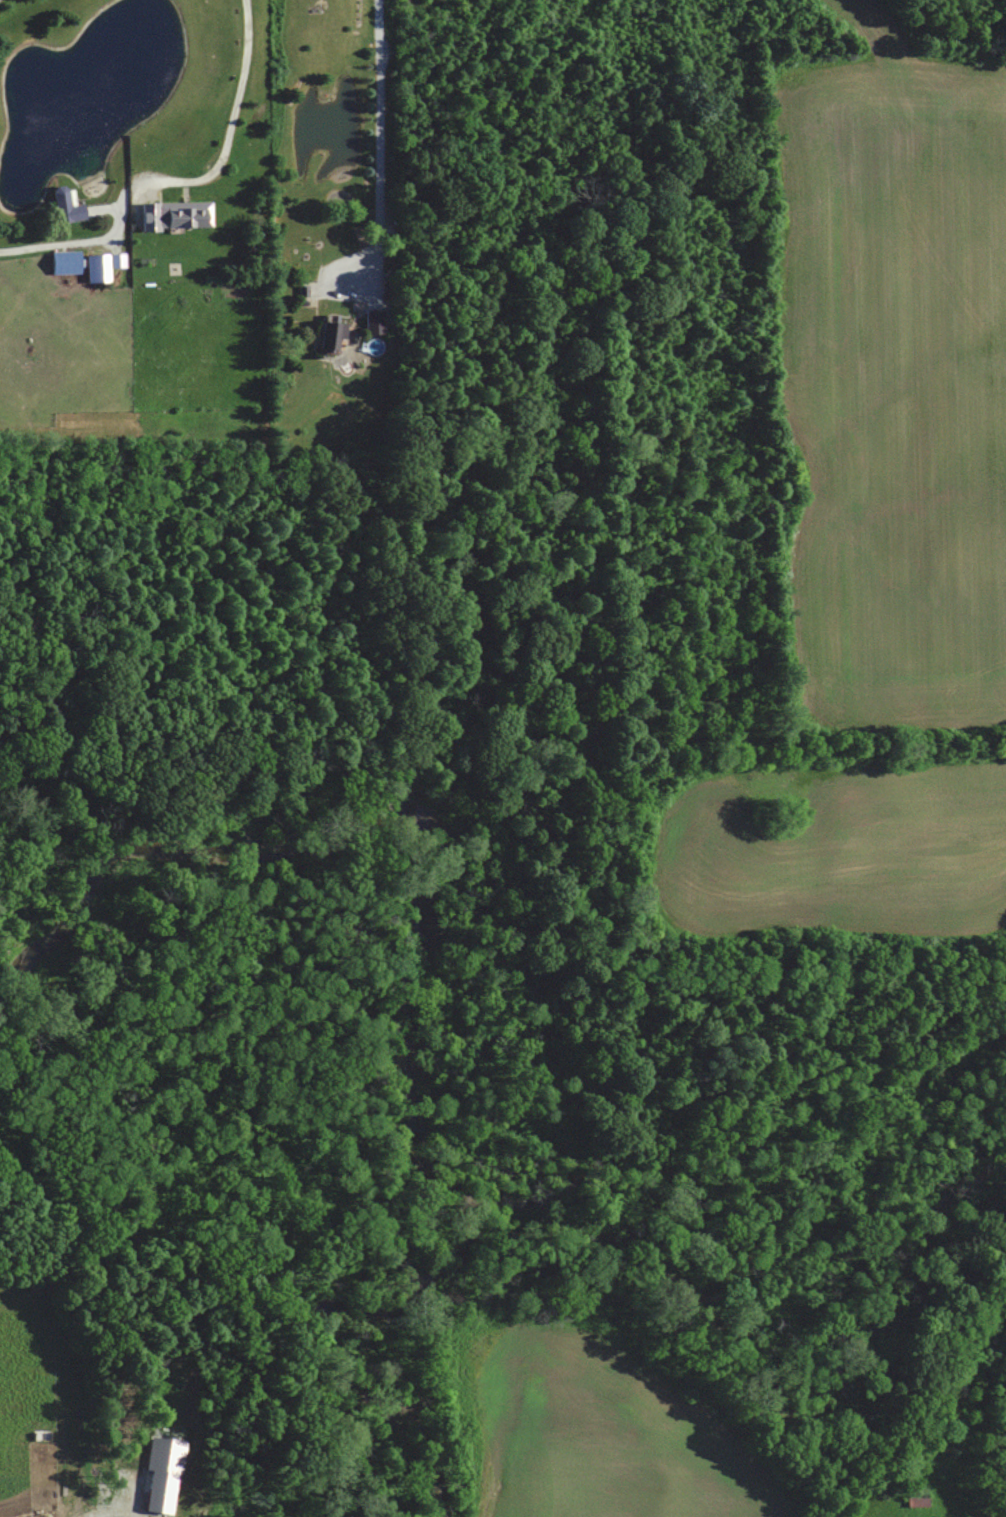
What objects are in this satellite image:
road: (246, 121)
building: (66, 207)
building: (173, 215)
road: (58, 256)
building: (64, 262)
building: (374, 323)
building: (948, 1446)
road: (113, 1513)

